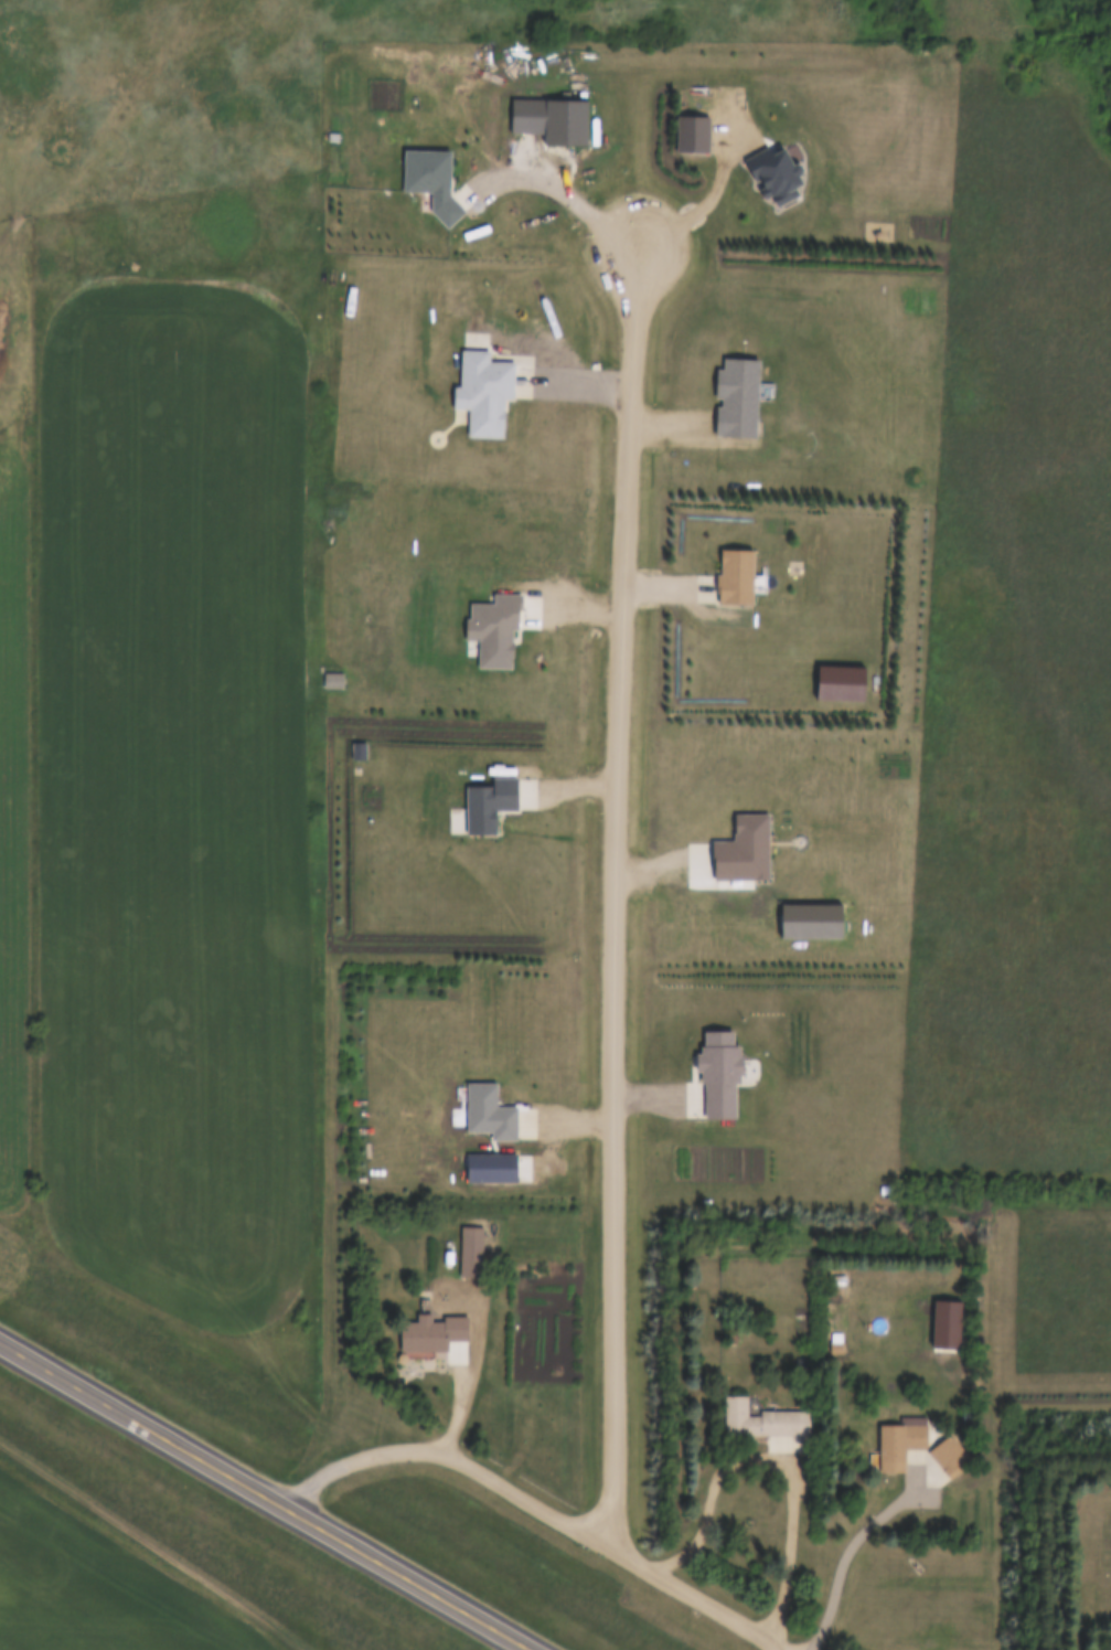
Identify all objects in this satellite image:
road: (610, 890)
building: (431, 1333)
building: (757, 1422)
building: (901, 1439)
building: (946, 1454)
road: (768, 1457)
road: (268, 1494)
road: (542, 1503)
road: (853, 1542)

